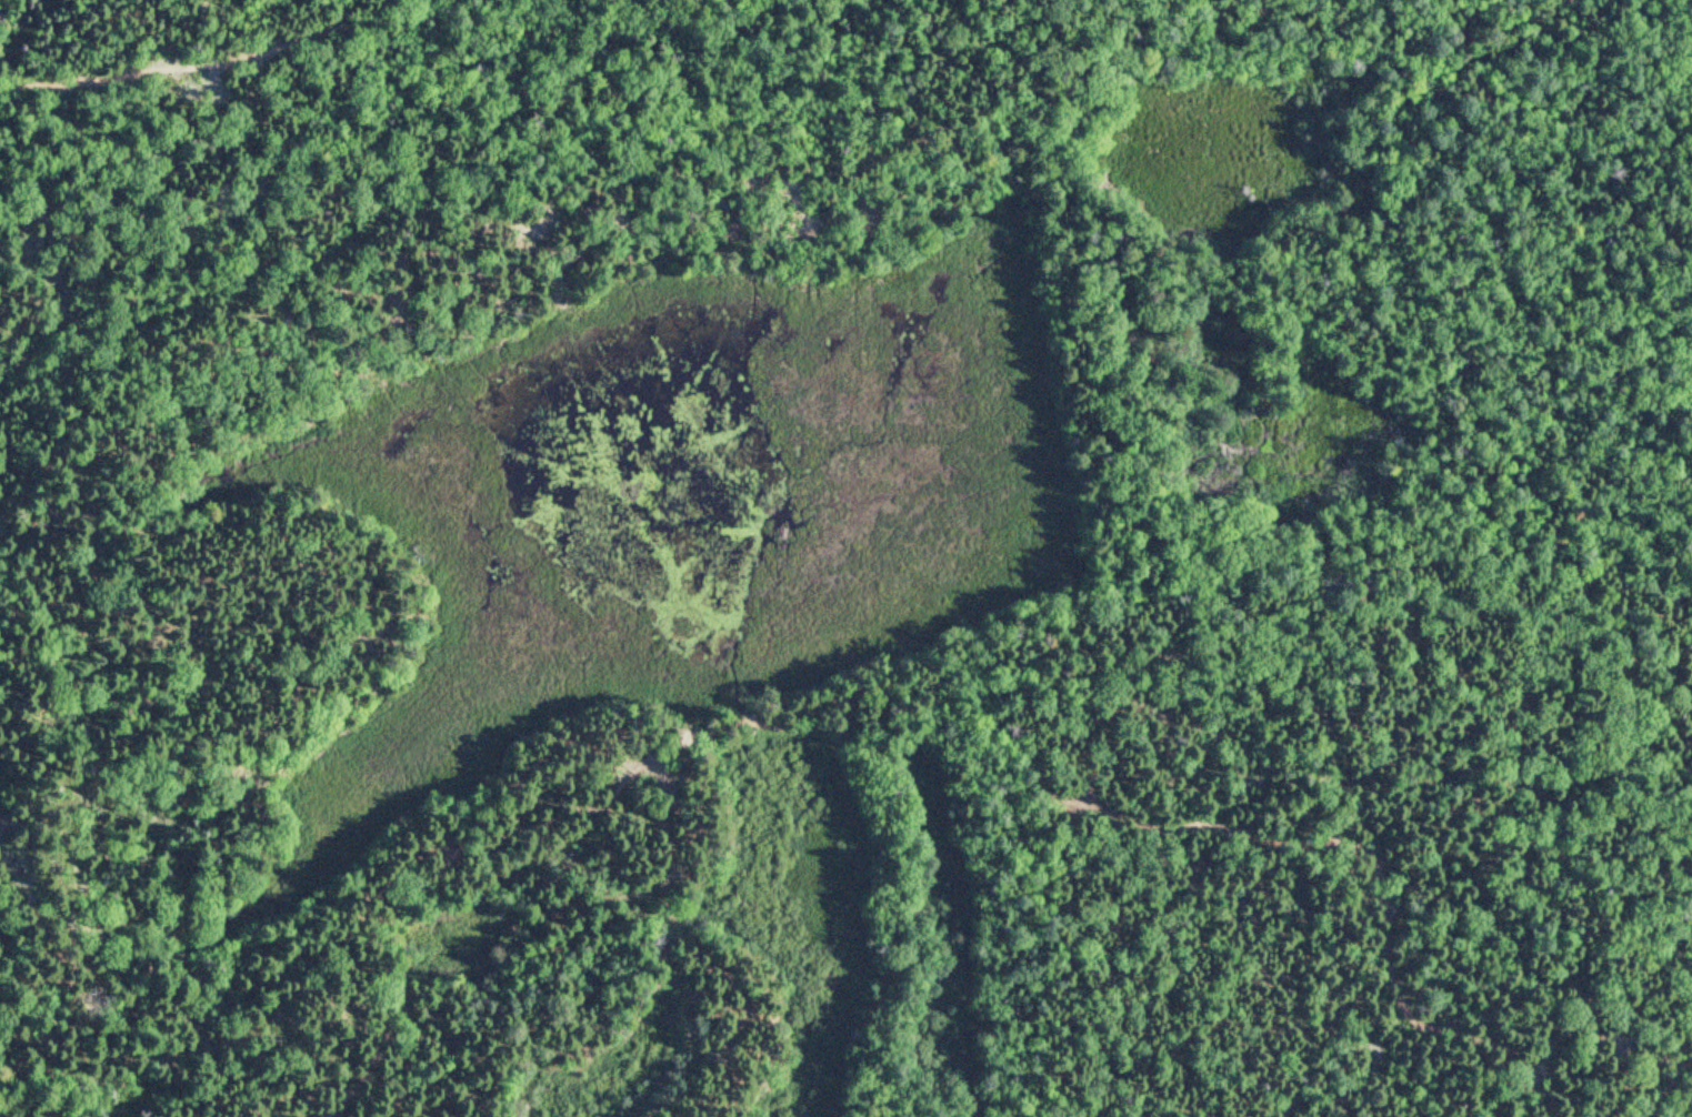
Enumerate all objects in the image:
road: (1365, 984)

